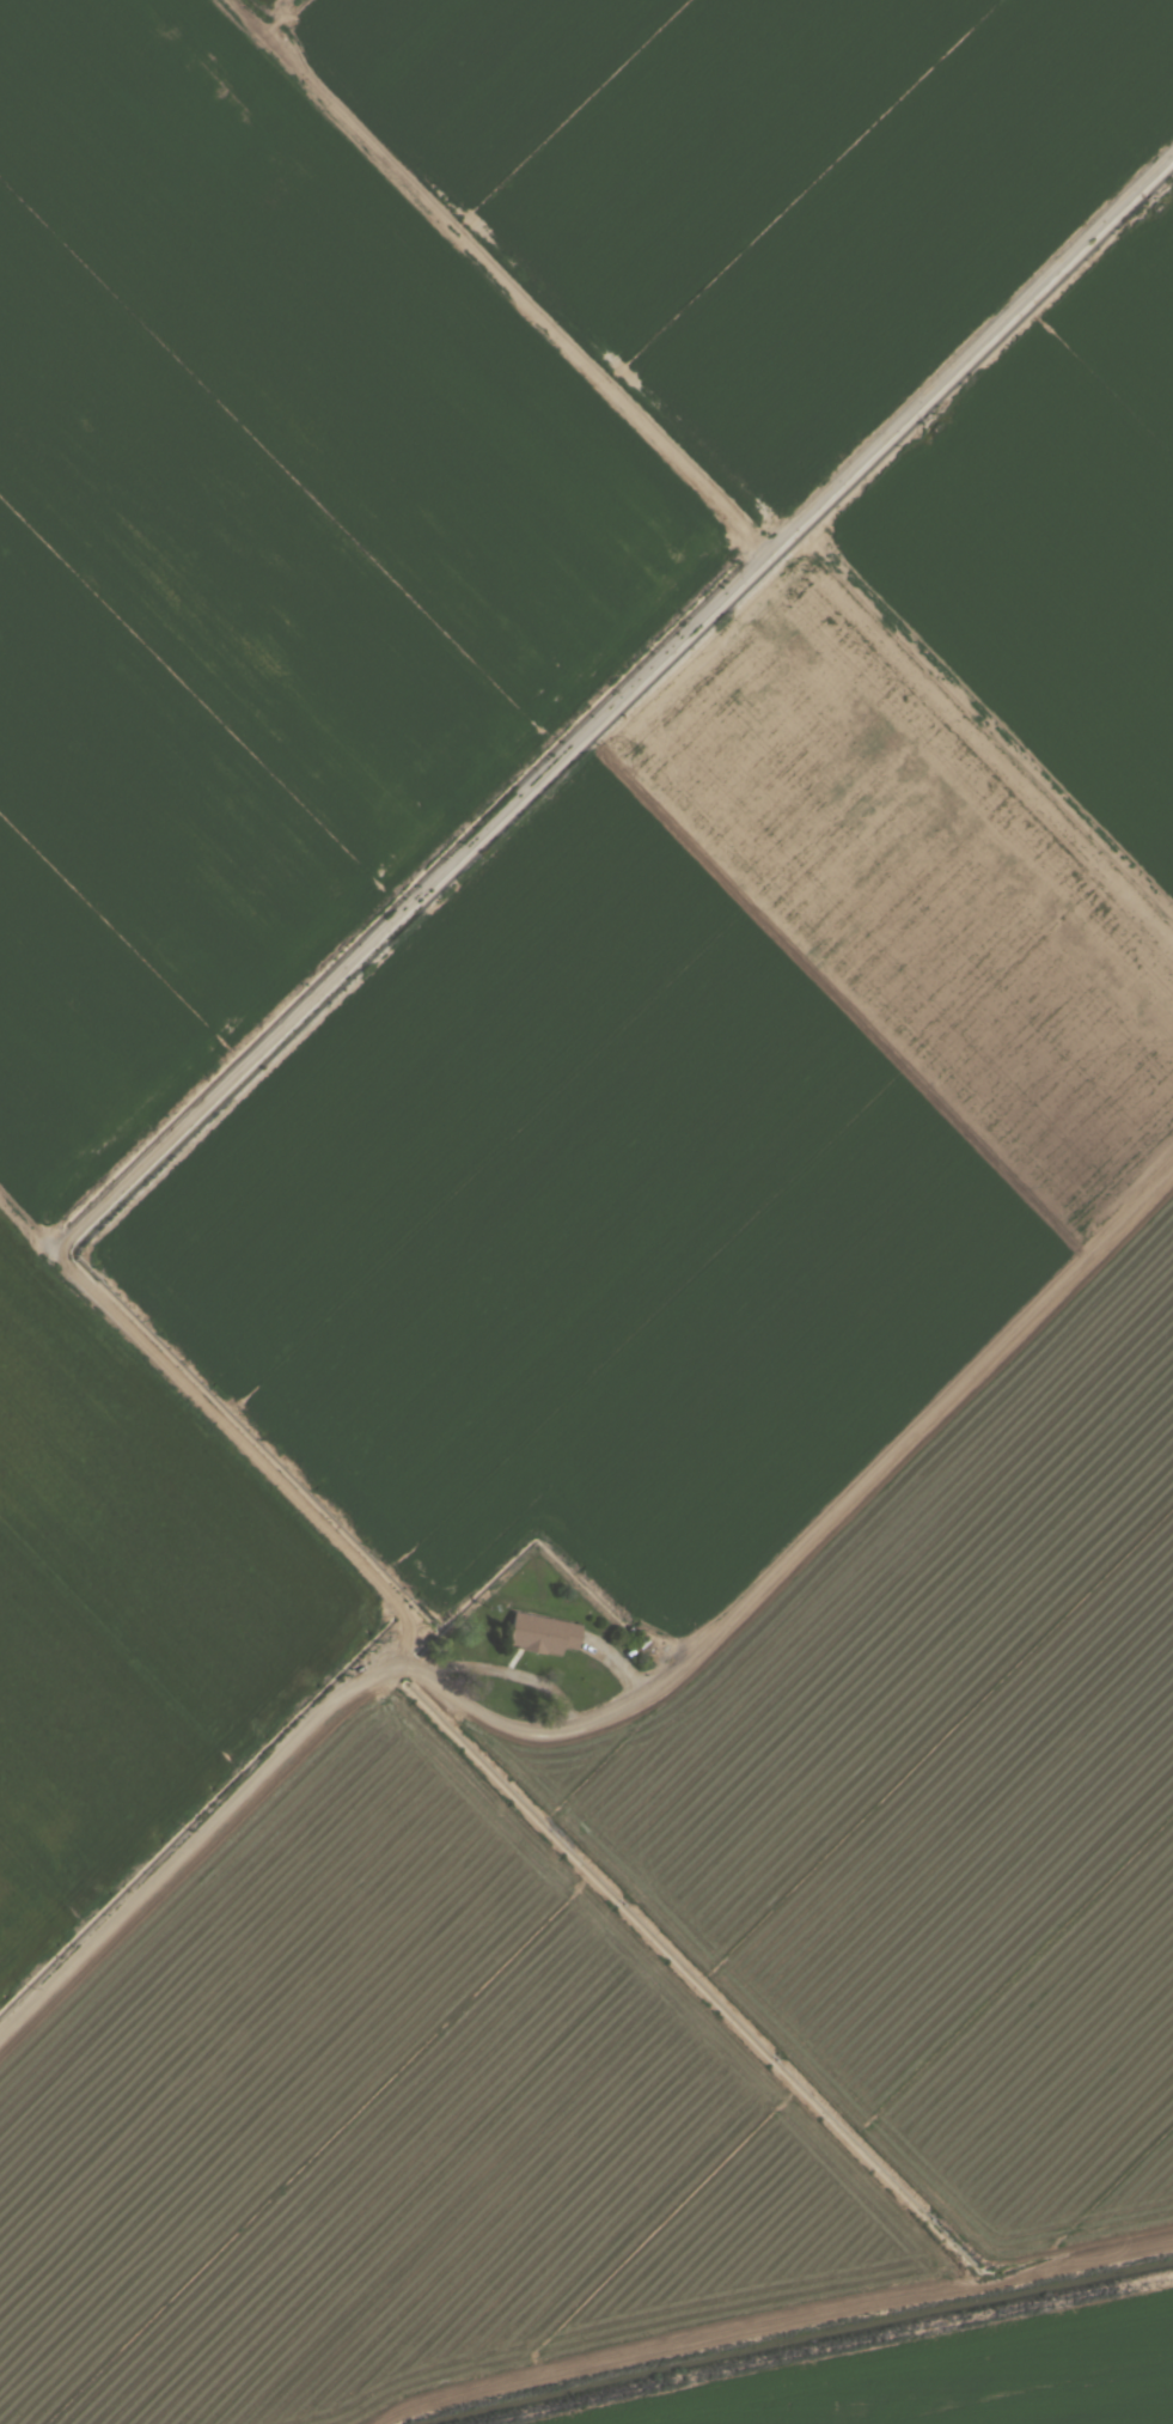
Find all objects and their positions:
crop: (257, 558)
crop: (691, 1134)
crop: (132, 1608)
building: (545, 1634)
crop: (398, 2131)

